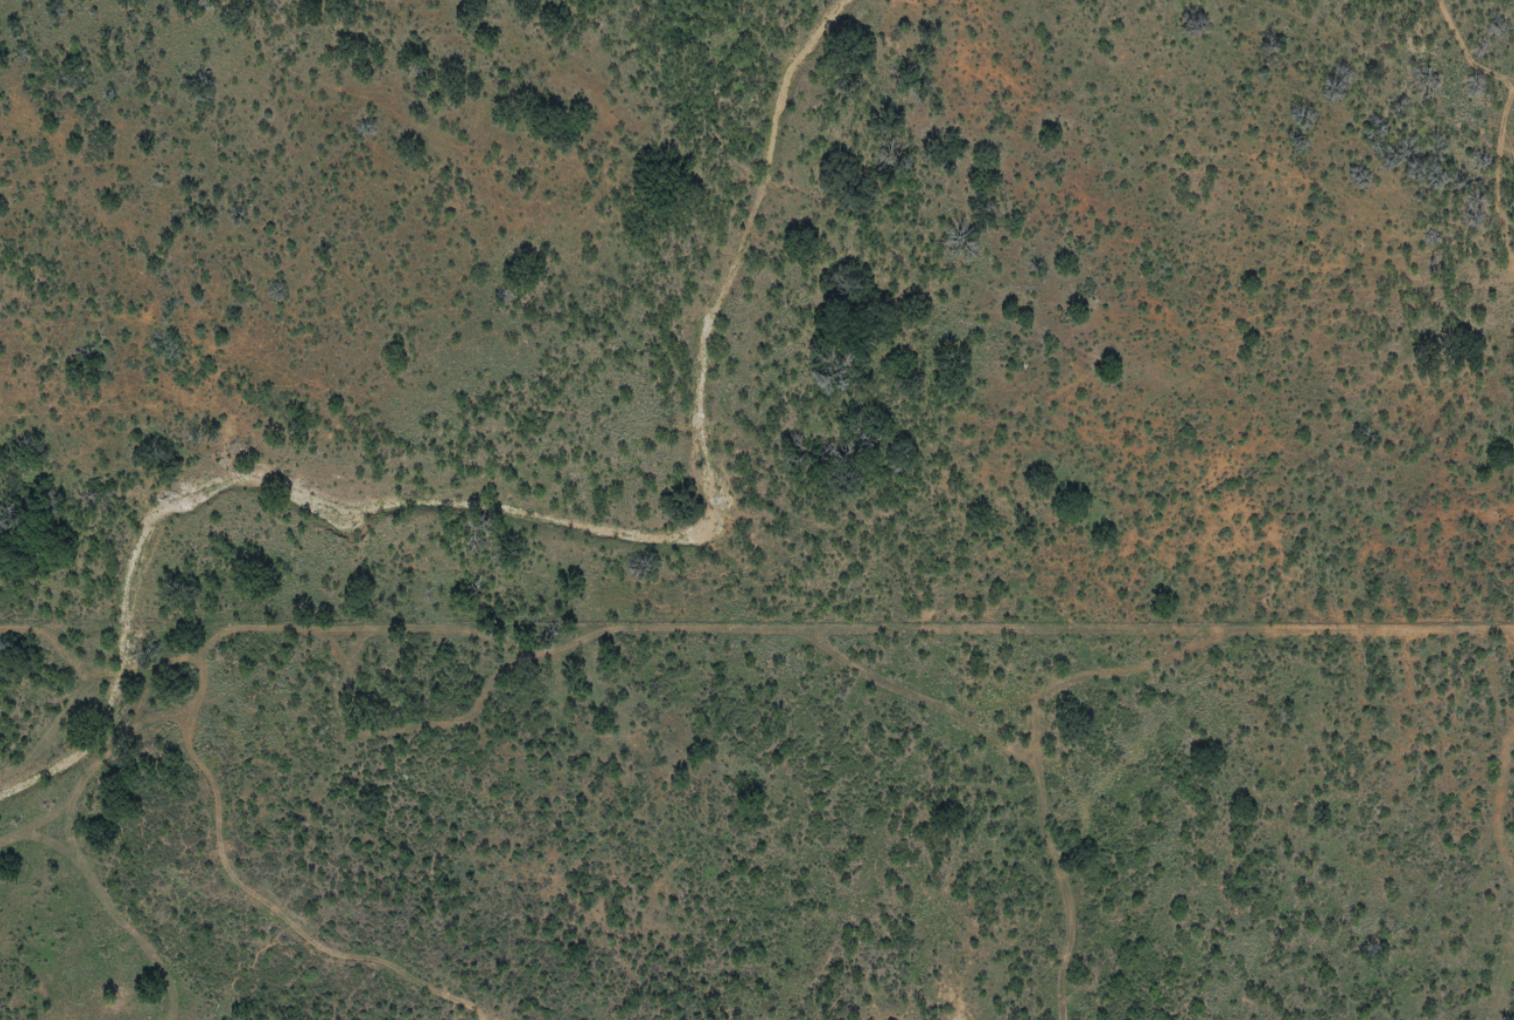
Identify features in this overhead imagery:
road: (1144, 675)

